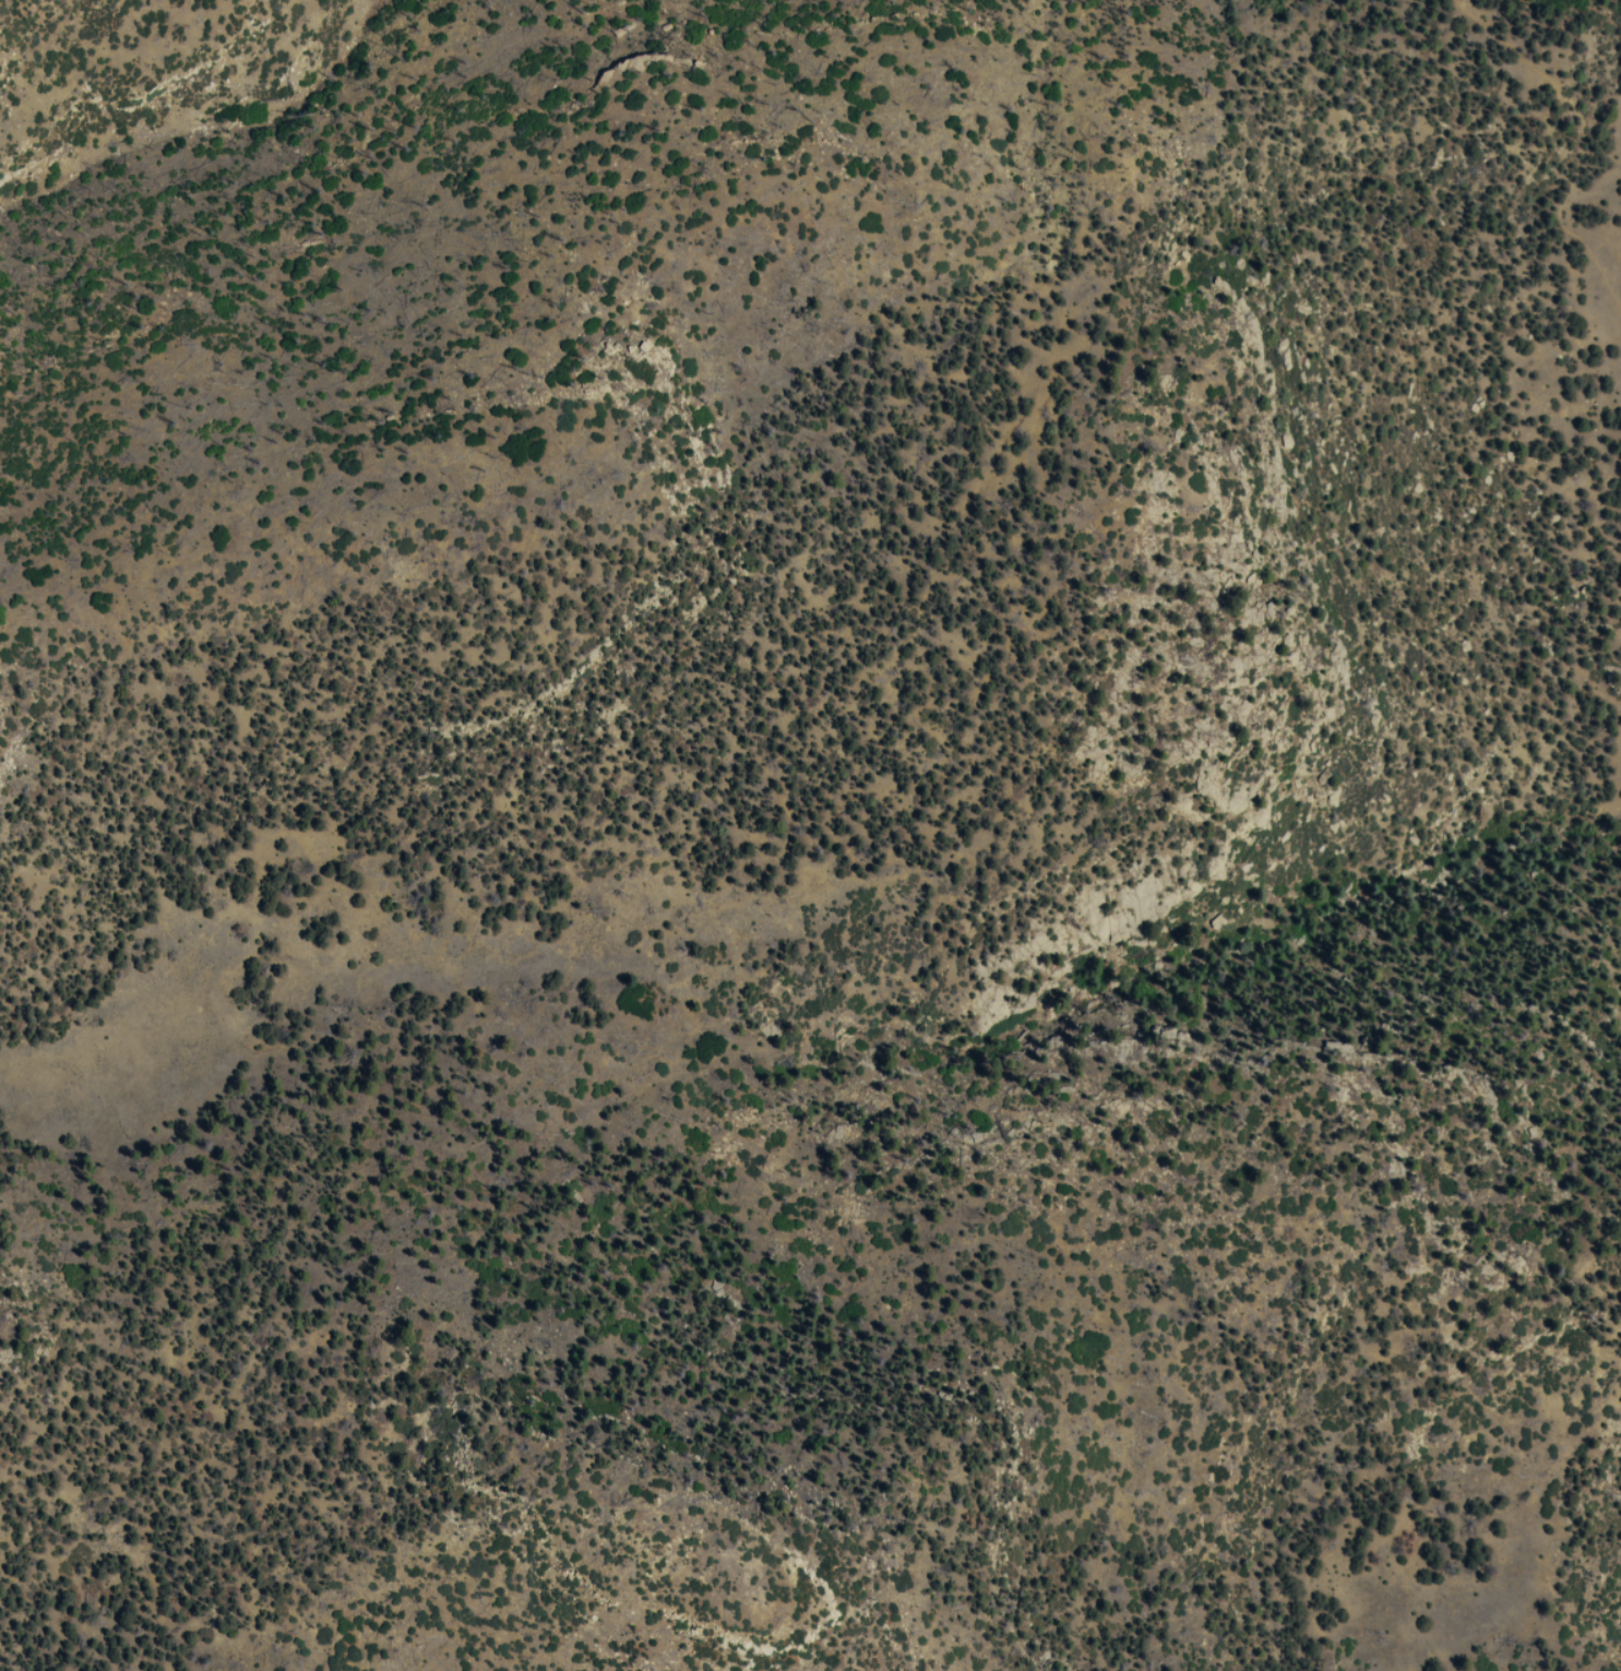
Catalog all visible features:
road: (1578, 135)

